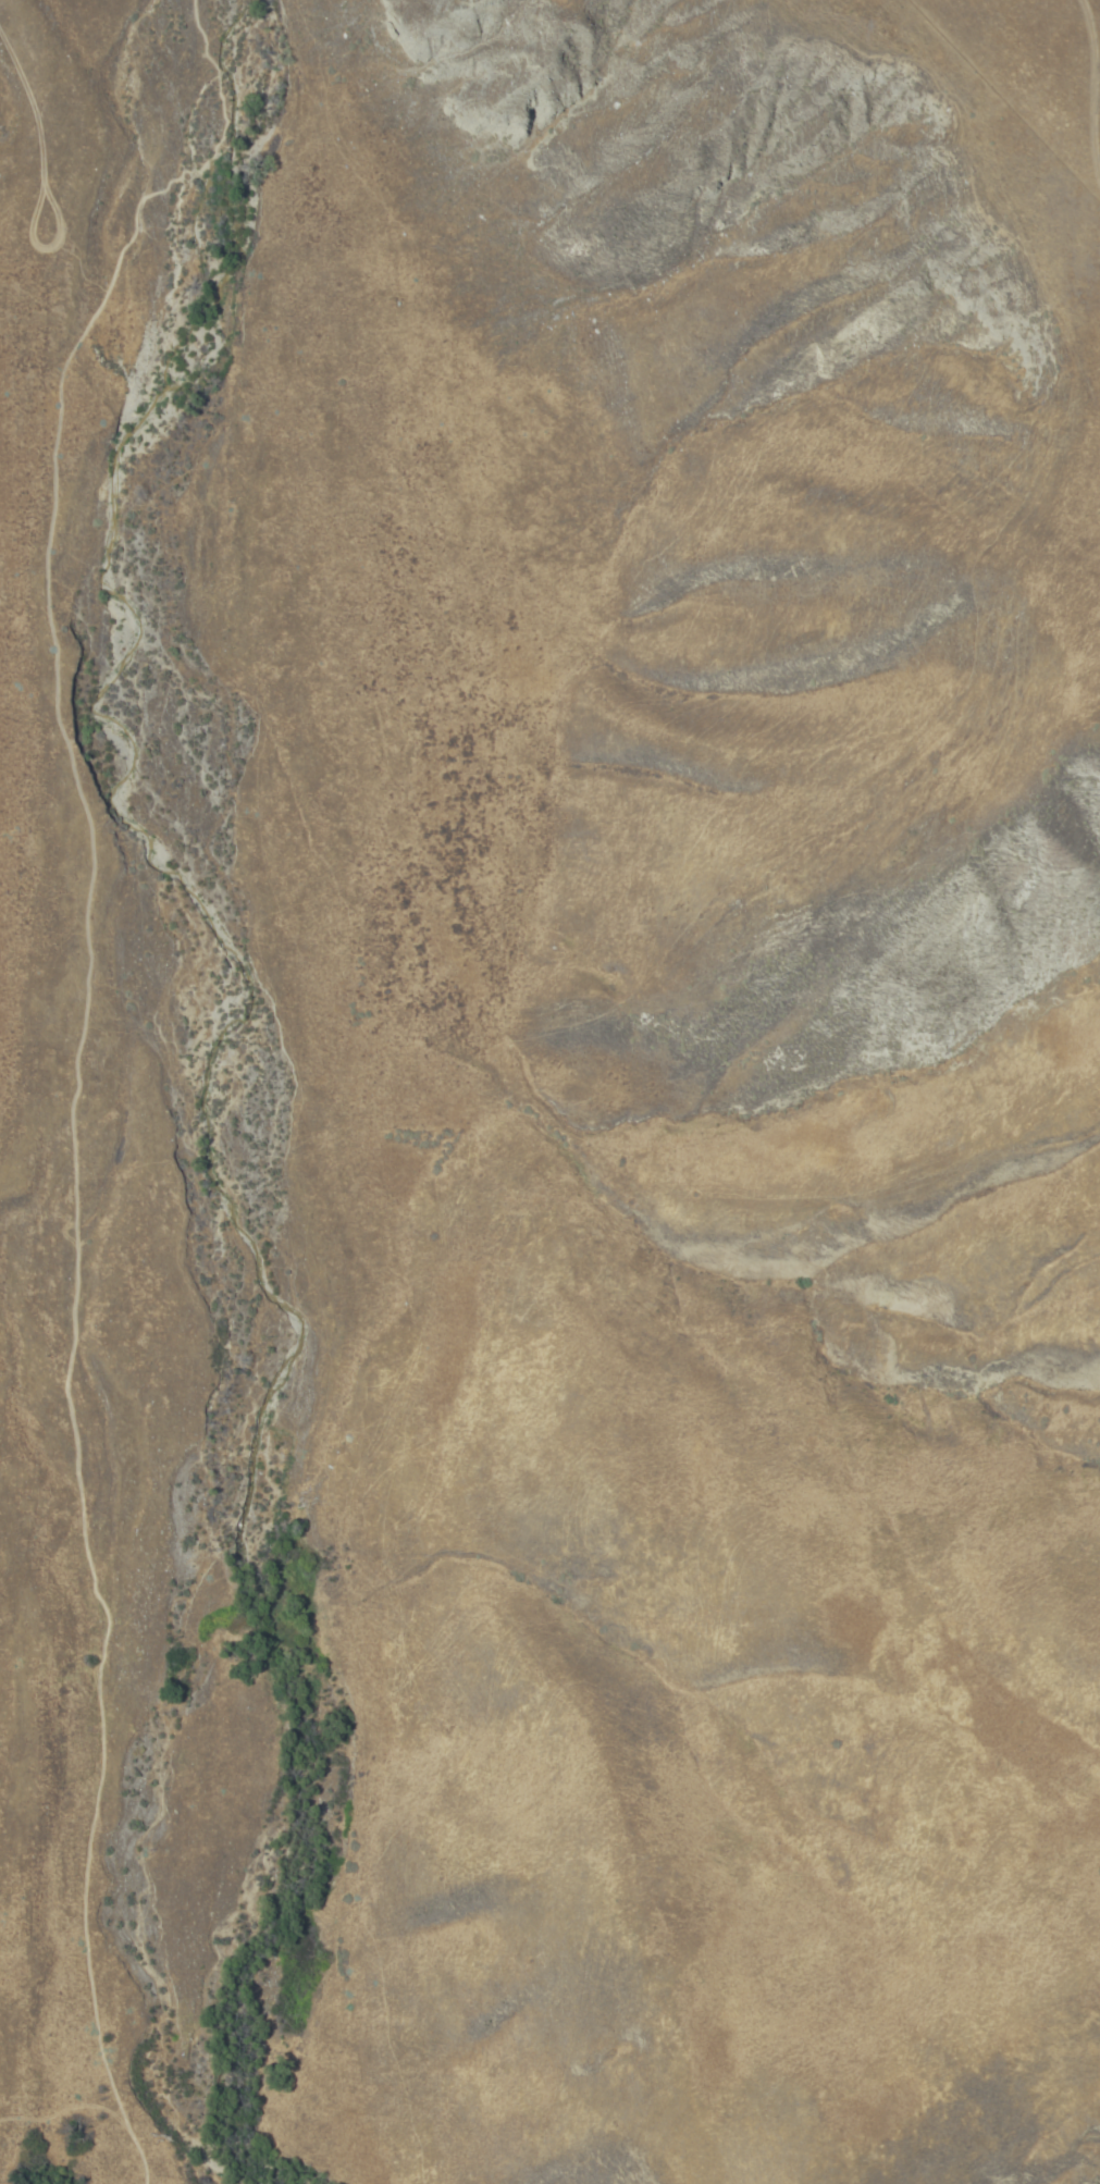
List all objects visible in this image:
road: (78, 1056)

